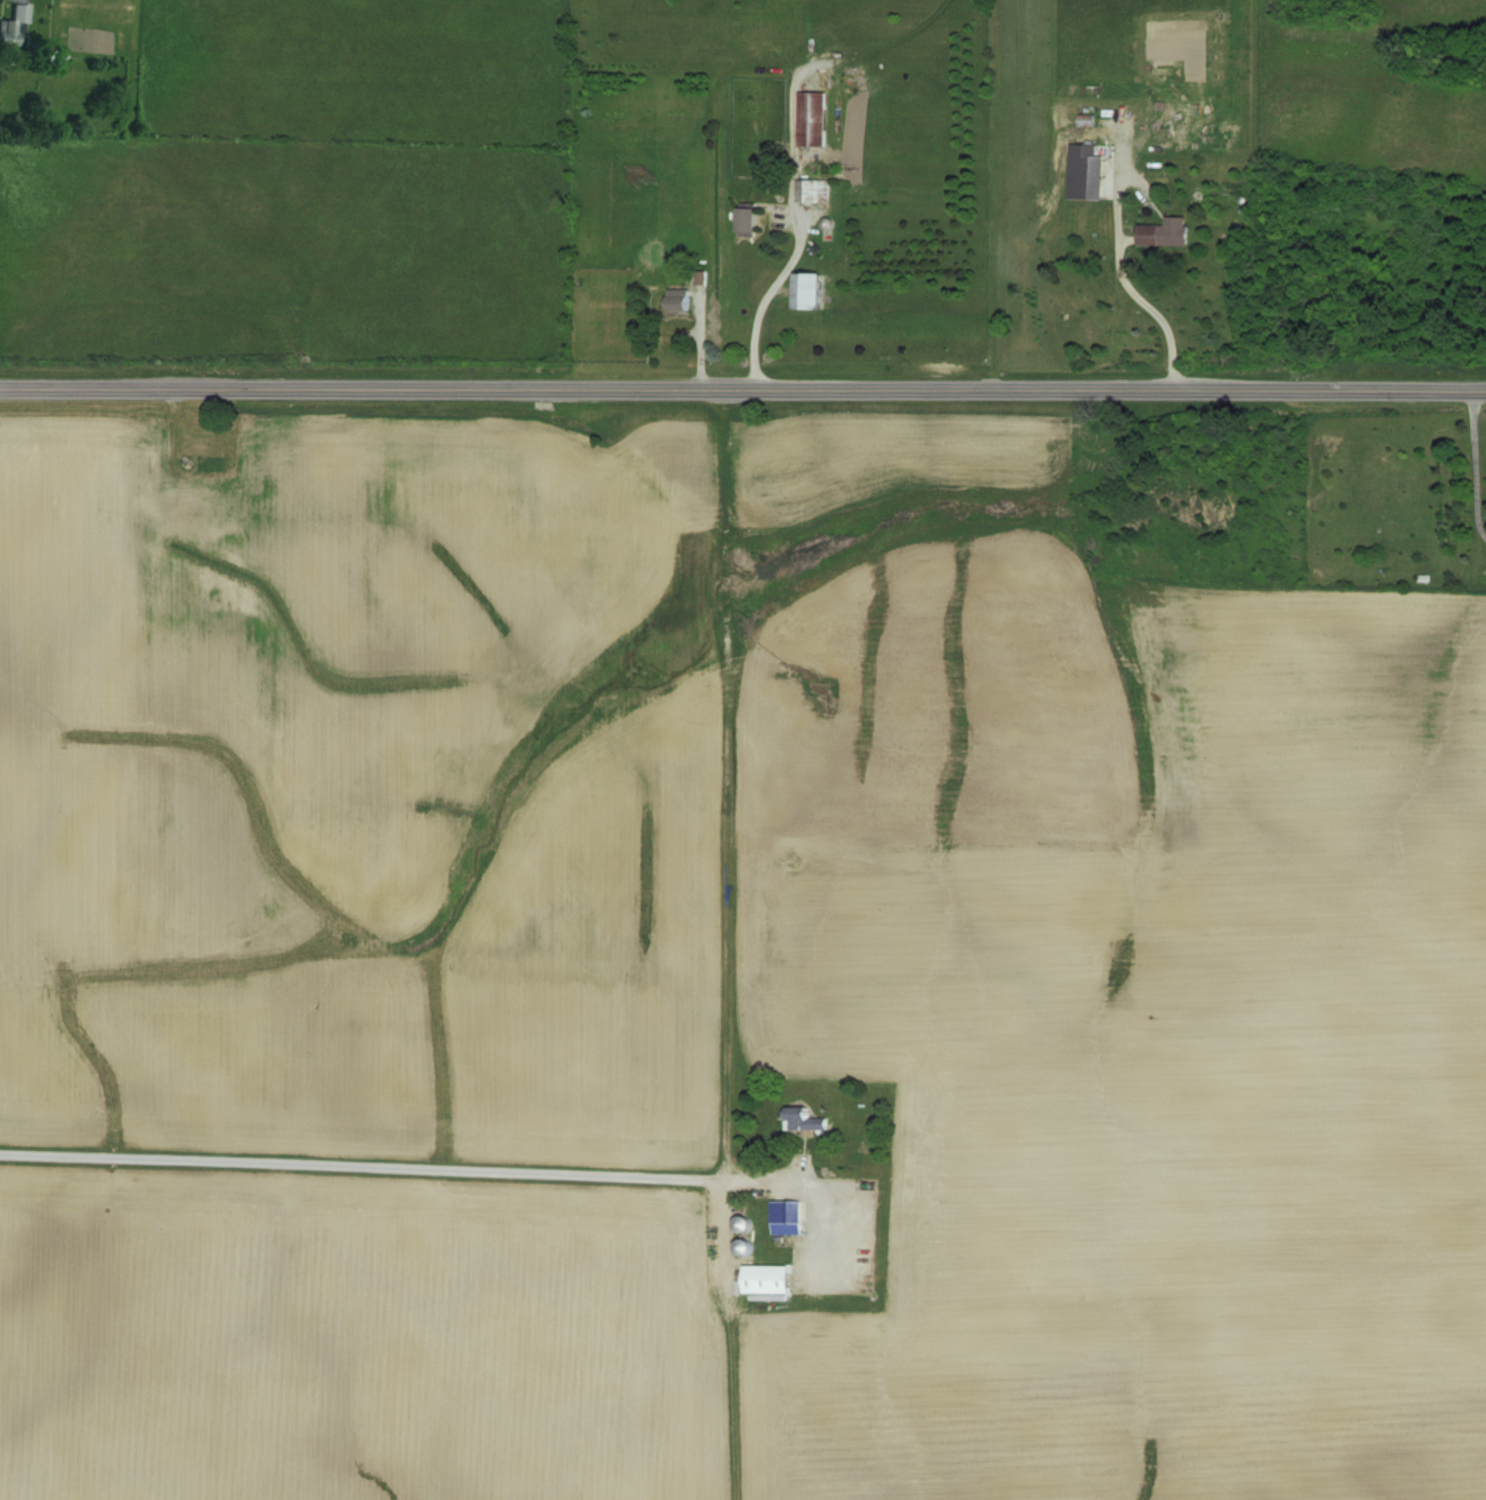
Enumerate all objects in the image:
building: (13, 26)
building: (94, 43)
building: (808, 117)
building: (1085, 171)
building: (743, 219)
building: (1159, 235)
building: (802, 290)
road: (765, 299)
road: (1149, 304)
road: (742, 389)
building: (193, 443)
road: (1474, 463)
building: (183, 577)
road: (724, 782)
building: (799, 1118)
road: (358, 1162)
building: (785, 1216)
building: (737, 1223)
building: (763, 1275)

